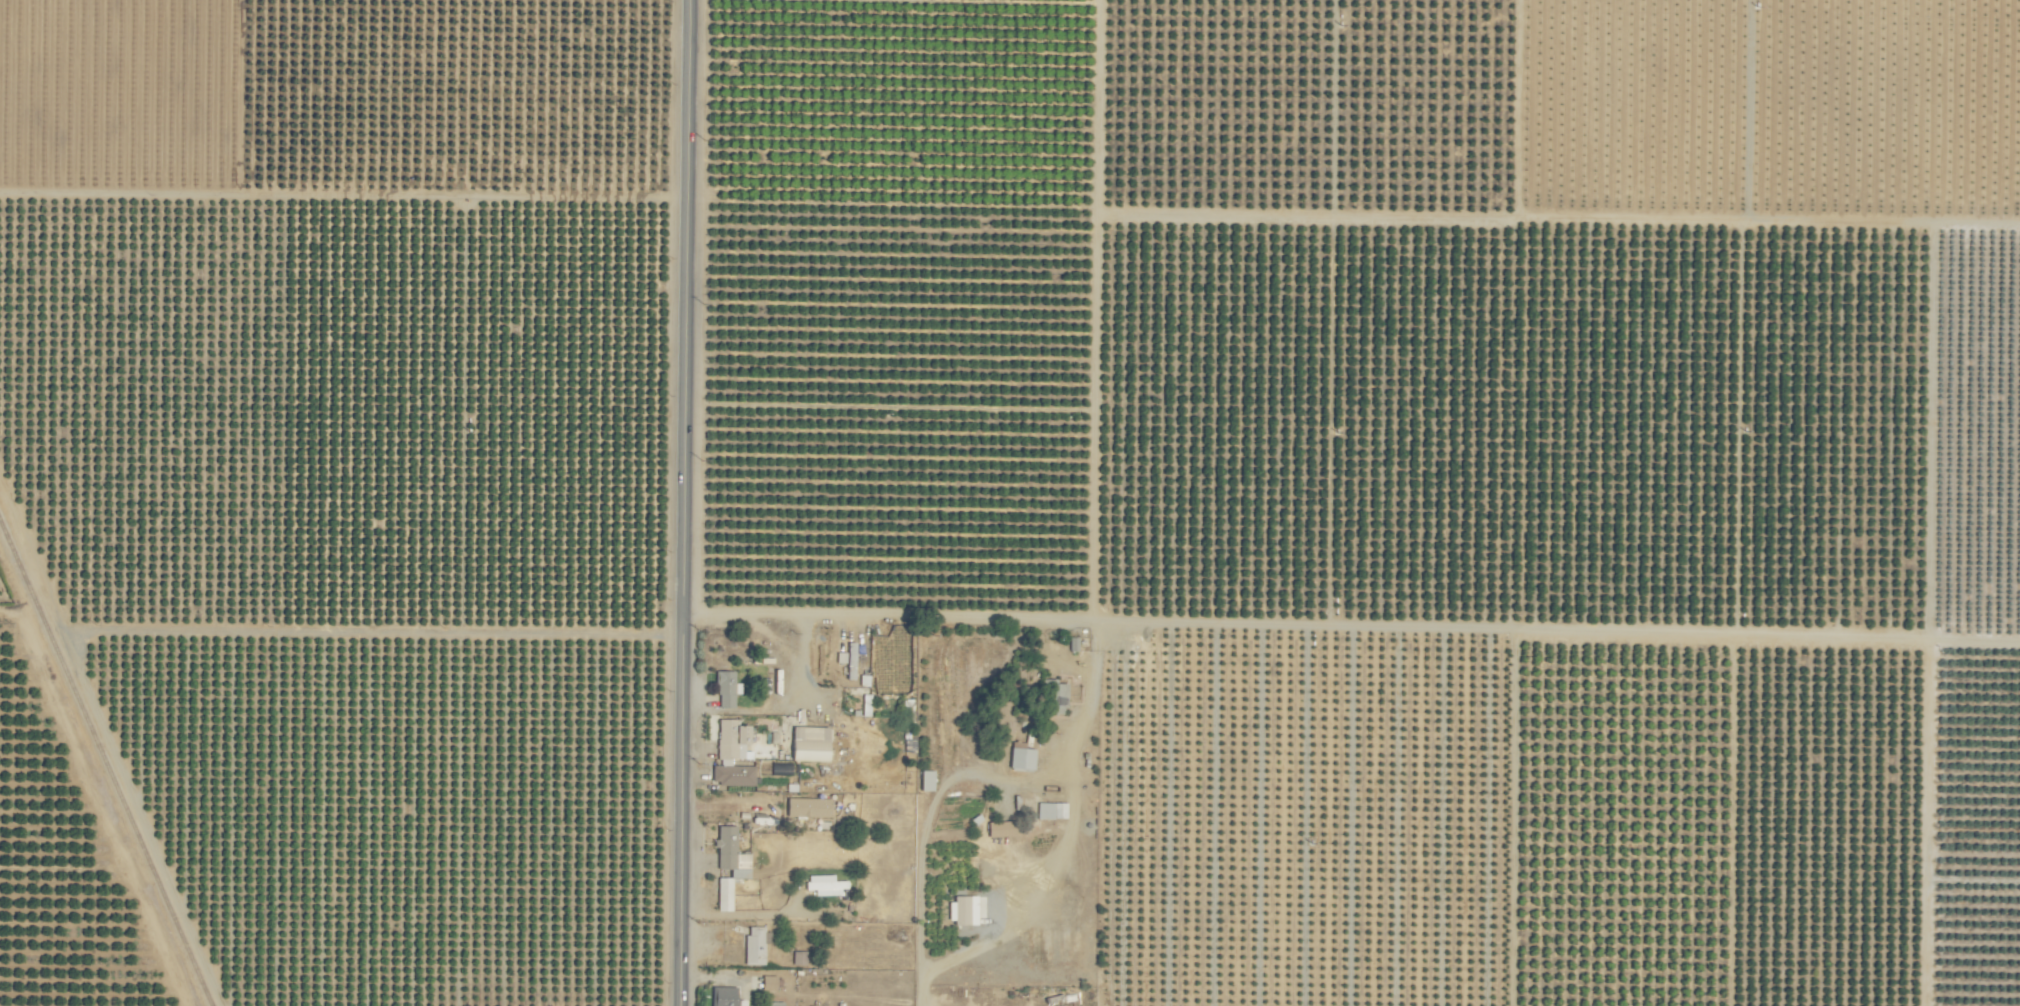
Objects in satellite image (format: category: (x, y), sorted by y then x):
road: (689, 503)
crop: (1010, 503)
road: (681, 618)
road: (805, 652)
building: (853, 660)
building: (894, 670)
building: (727, 689)
building: (1056, 698)
building: (734, 740)
building: (812, 744)
building: (1023, 757)
railway: (105, 764)
building: (735, 775)
building: (928, 781)
building: (810, 808)
building: (1053, 811)
building: (1003, 829)
building: (732, 853)
building: (827, 884)
building: (726, 894)
building: (968, 909)
road: (1008, 919)
building: (756, 946)
building: (801, 958)
building: (770, 983)
building: (725, 996)

